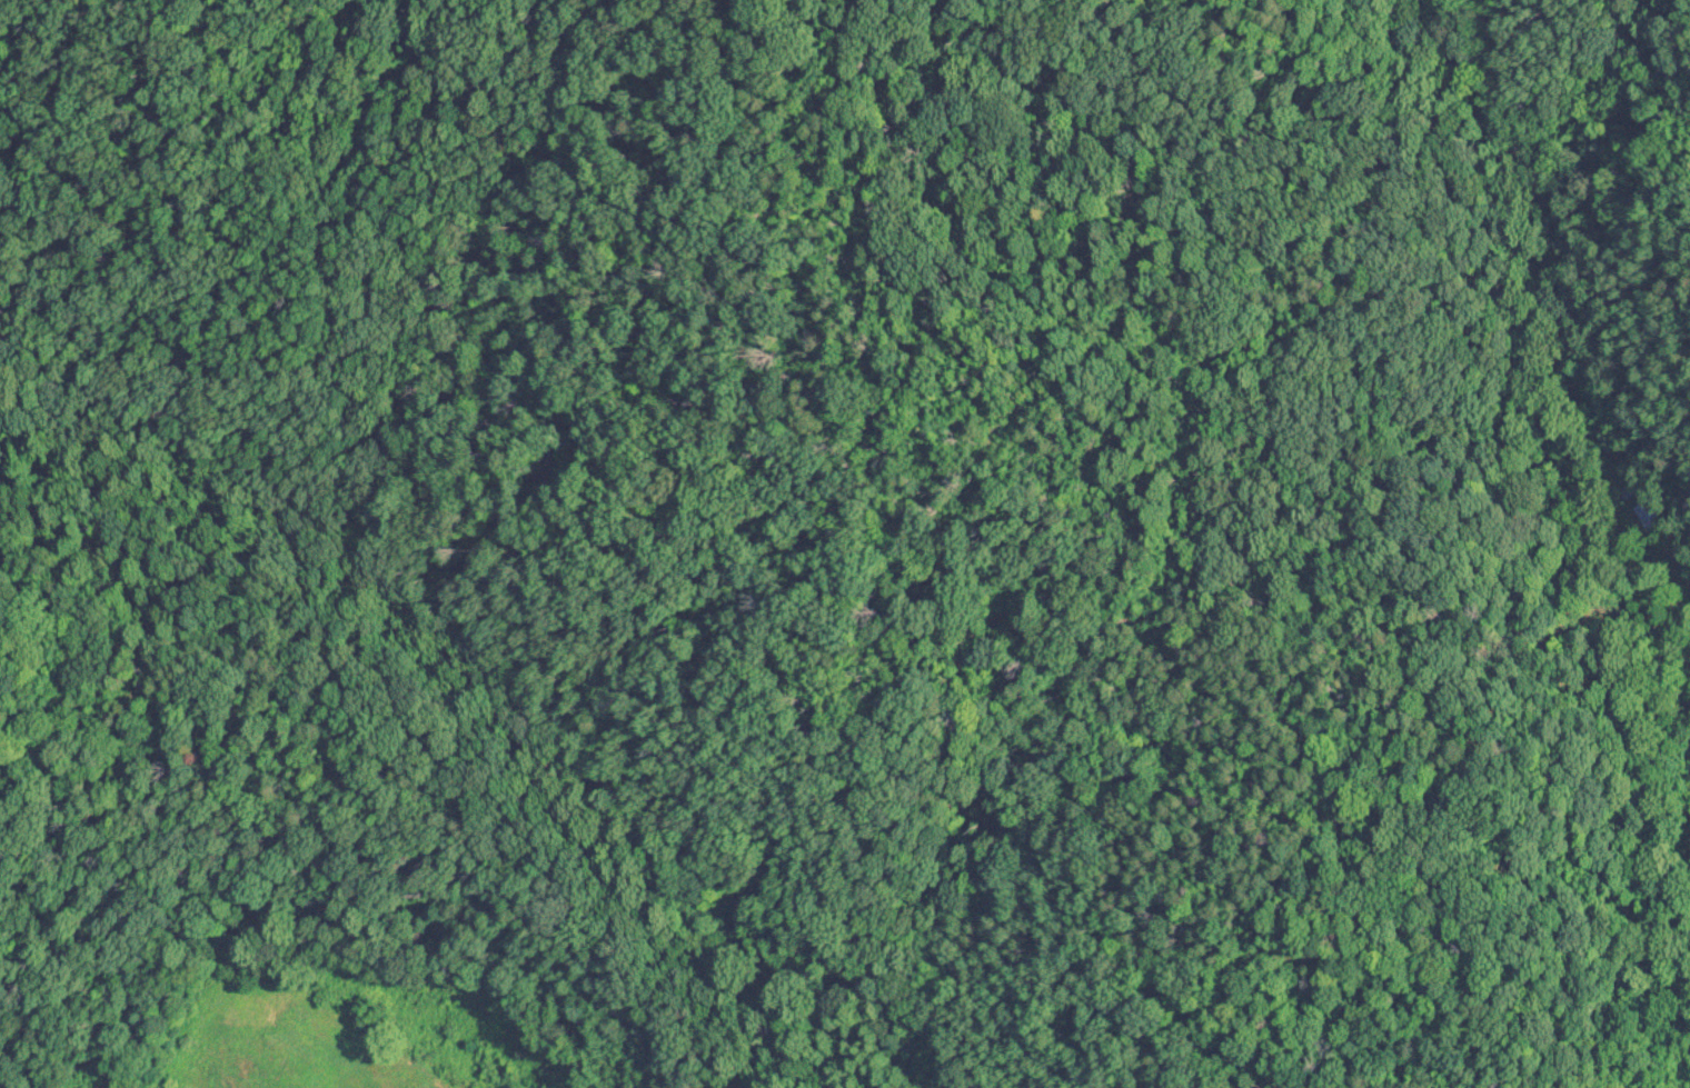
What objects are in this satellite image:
building: (1646, 516)

